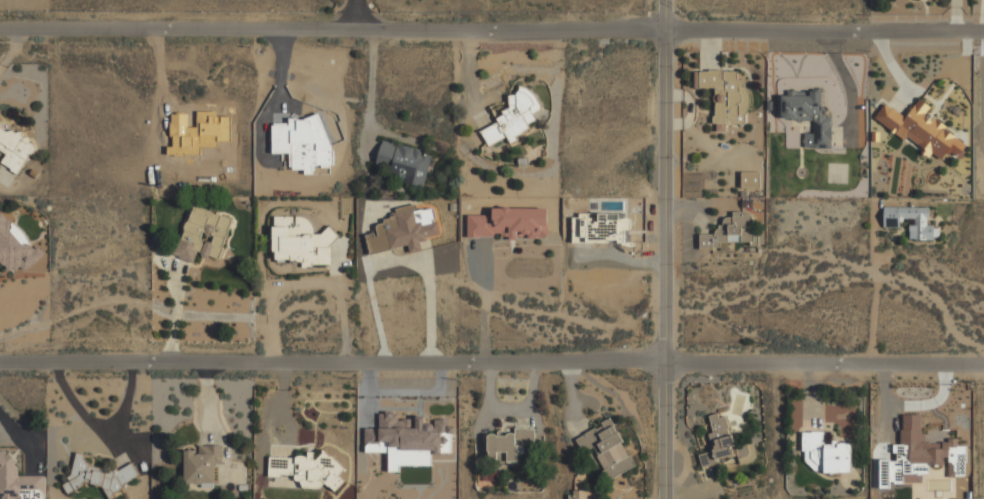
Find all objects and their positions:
road: (362, 10)
road: (492, 20)
road: (369, 88)
building: (725, 96)
building: (808, 113)
building: (514, 116)
building: (919, 128)
building: (14, 149)
building: (404, 163)
building: (750, 179)
building: (911, 221)
building: (509, 223)
building: (404, 229)
building: (732, 231)
building: (202, 234)
building: (301, 241)
building: (13, 246)
road: (672, 249)
road: (876, 291)
road: (492, 351)
building: (407, 439)
building: (724, 442)
building: (508, 444)
building: (606, 447)
building: (826, 453)
building: (908, 453)
building: (956, 457)
building: (200, 463)
building: (307, 470)
building: (99, 476)
building: (490, 479)
building: (18, 481)
building: (578, 494)

